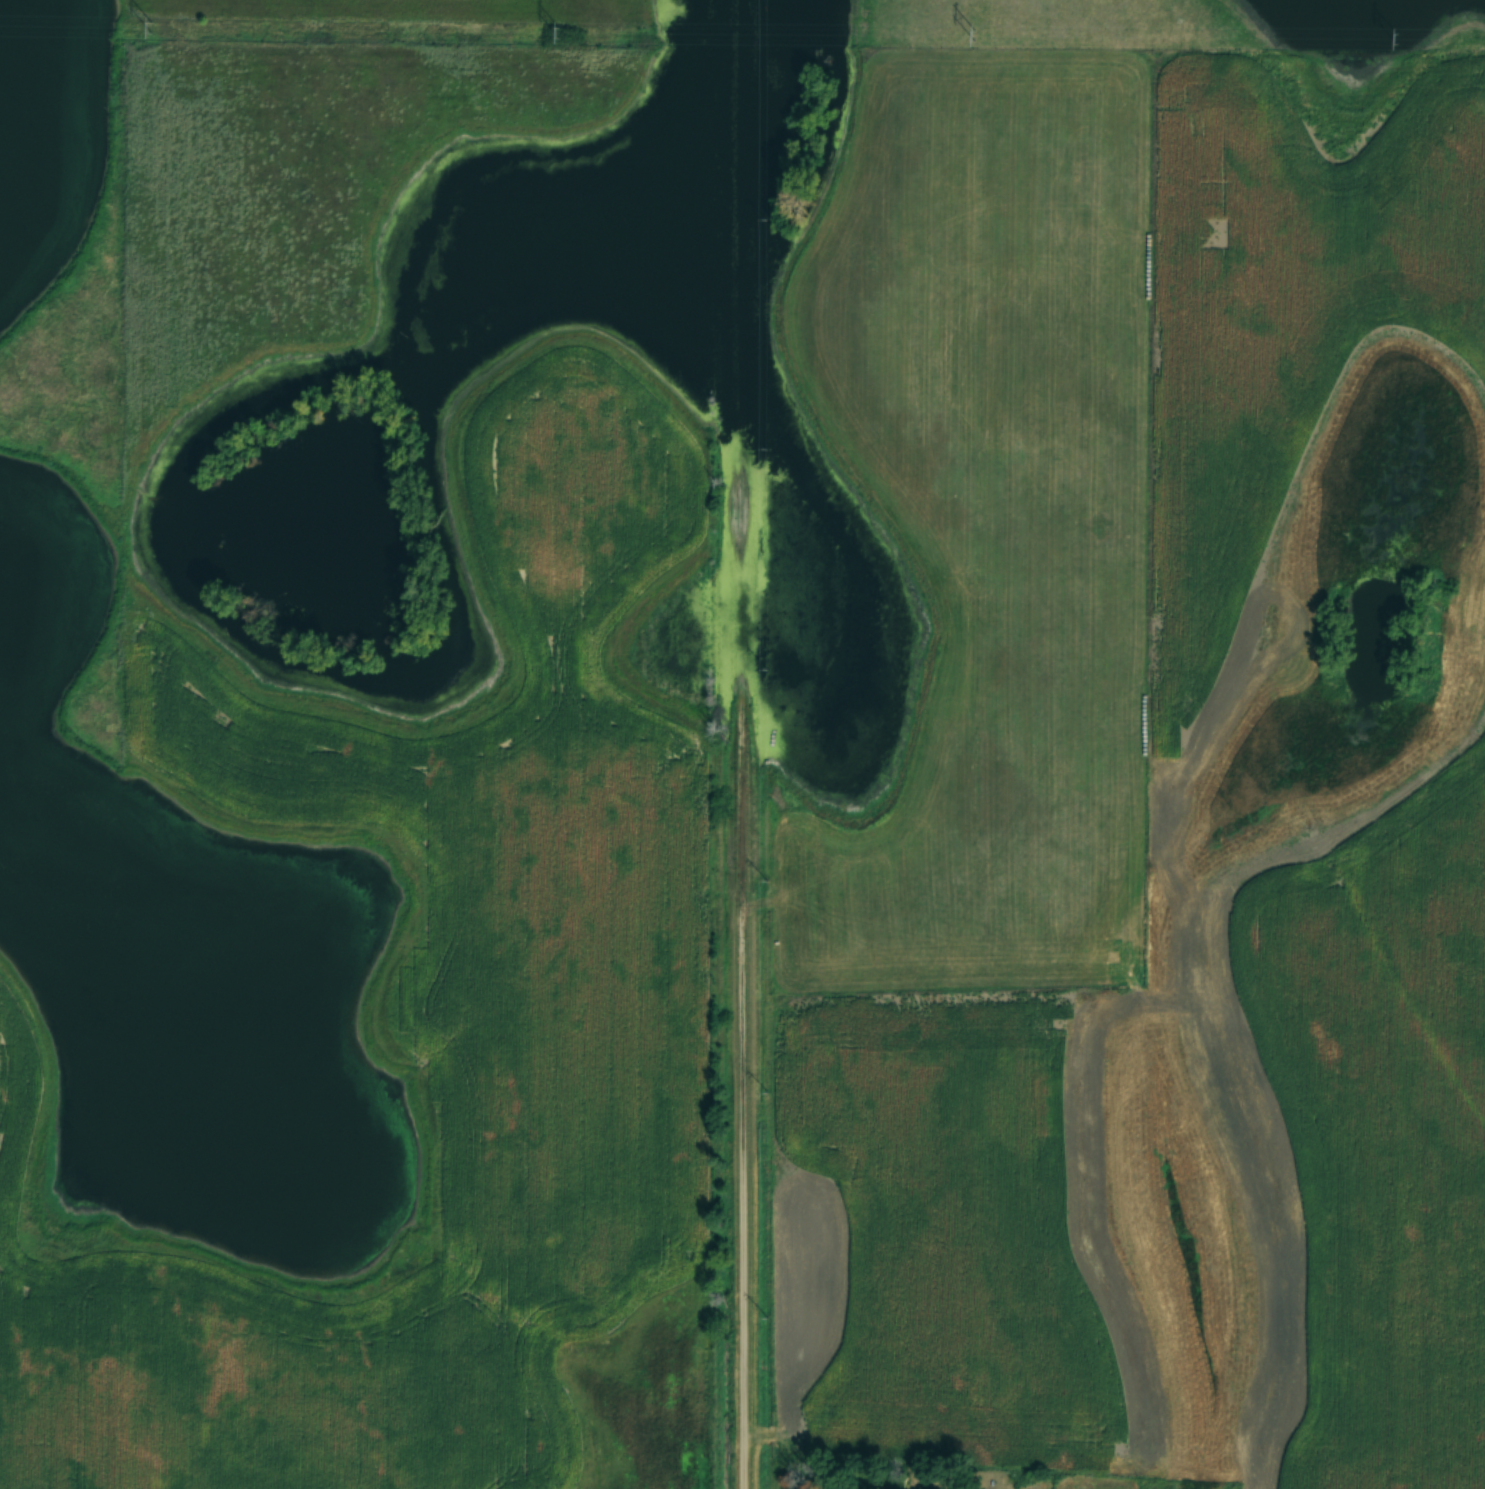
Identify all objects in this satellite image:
power tower: (151, 28)
power tower: (558, 33)
power tower: (975, 36)
power tower: (1398, 39)
road: (740, 744)

